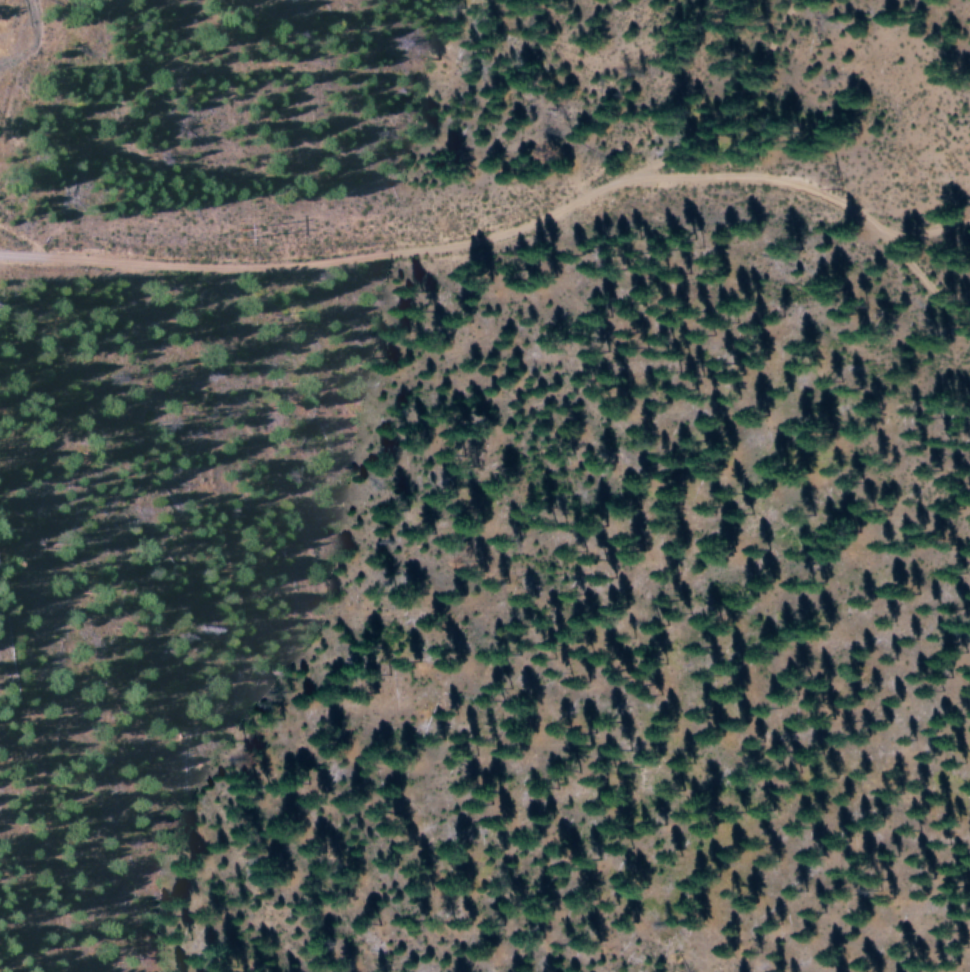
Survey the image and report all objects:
road: (782, 66)
power tower: (840, 181)
power tower: (156, 239)
road: (535, 254)

